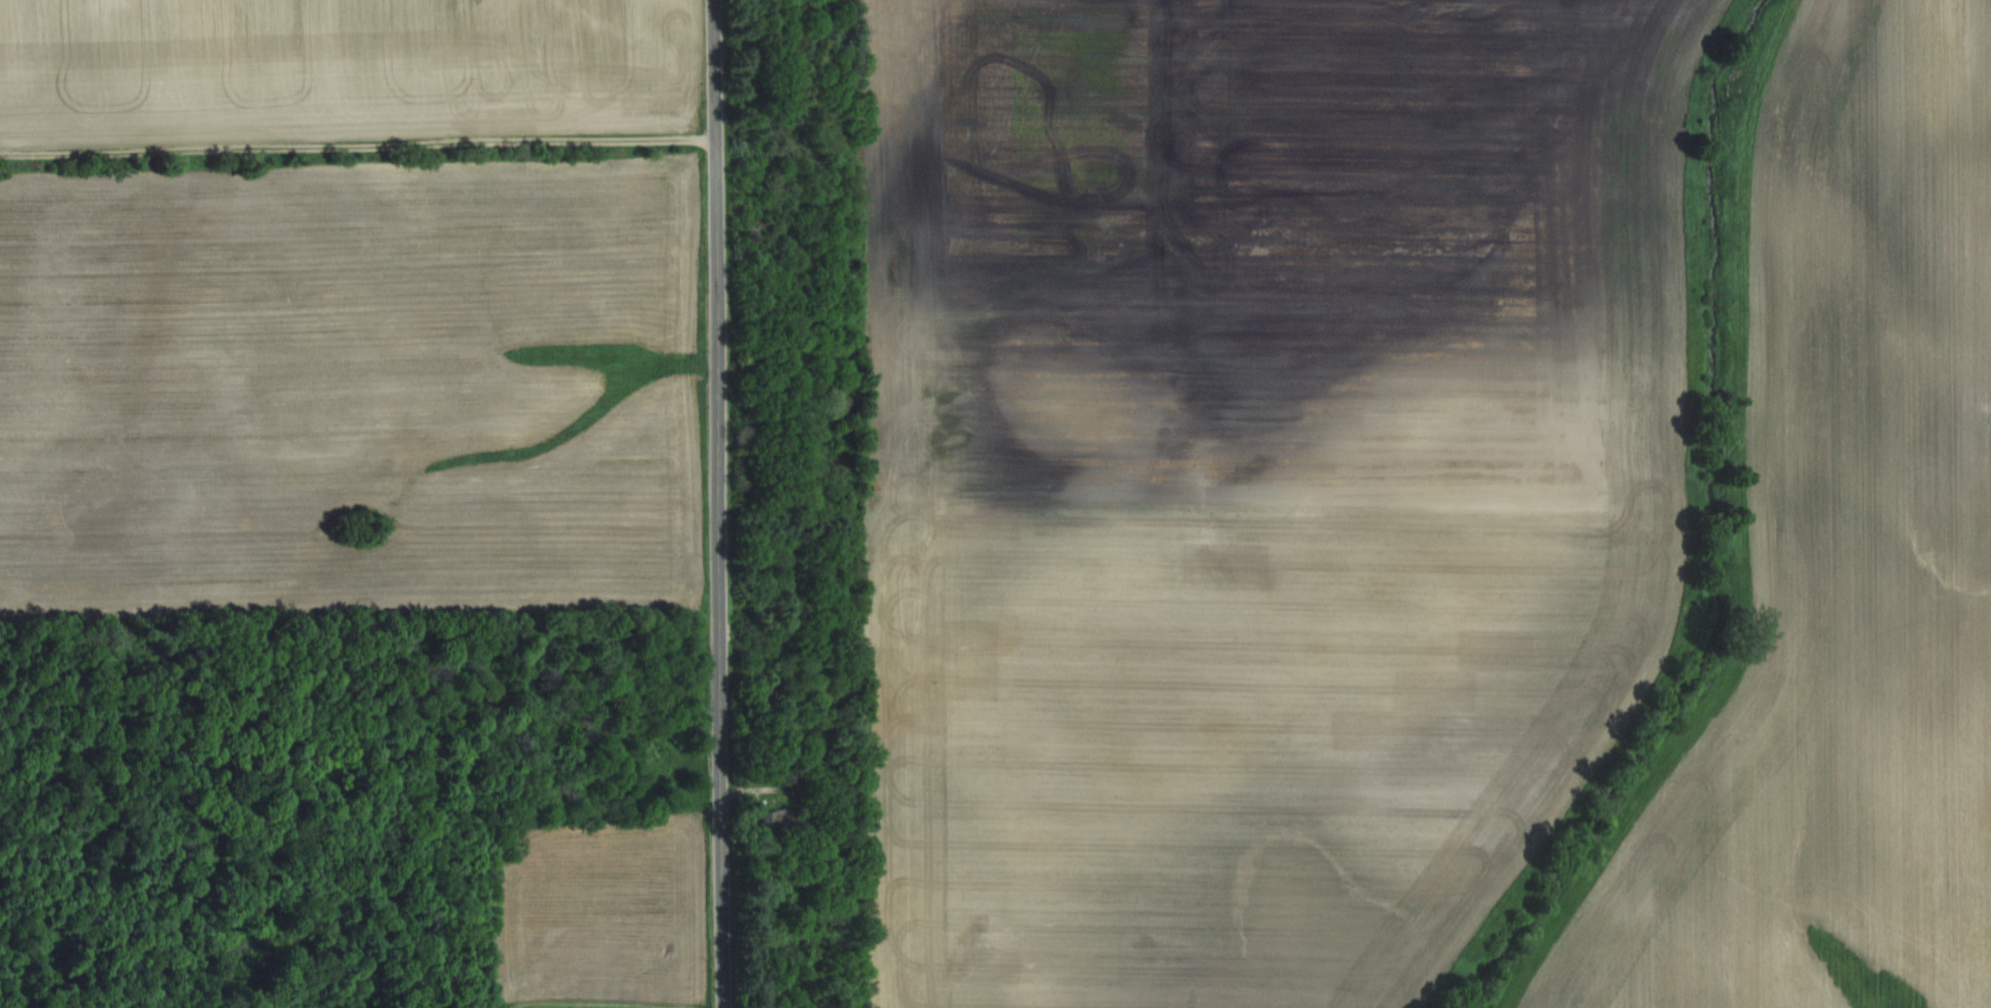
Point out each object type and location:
road: (718, 504)
building: (774, 817)

